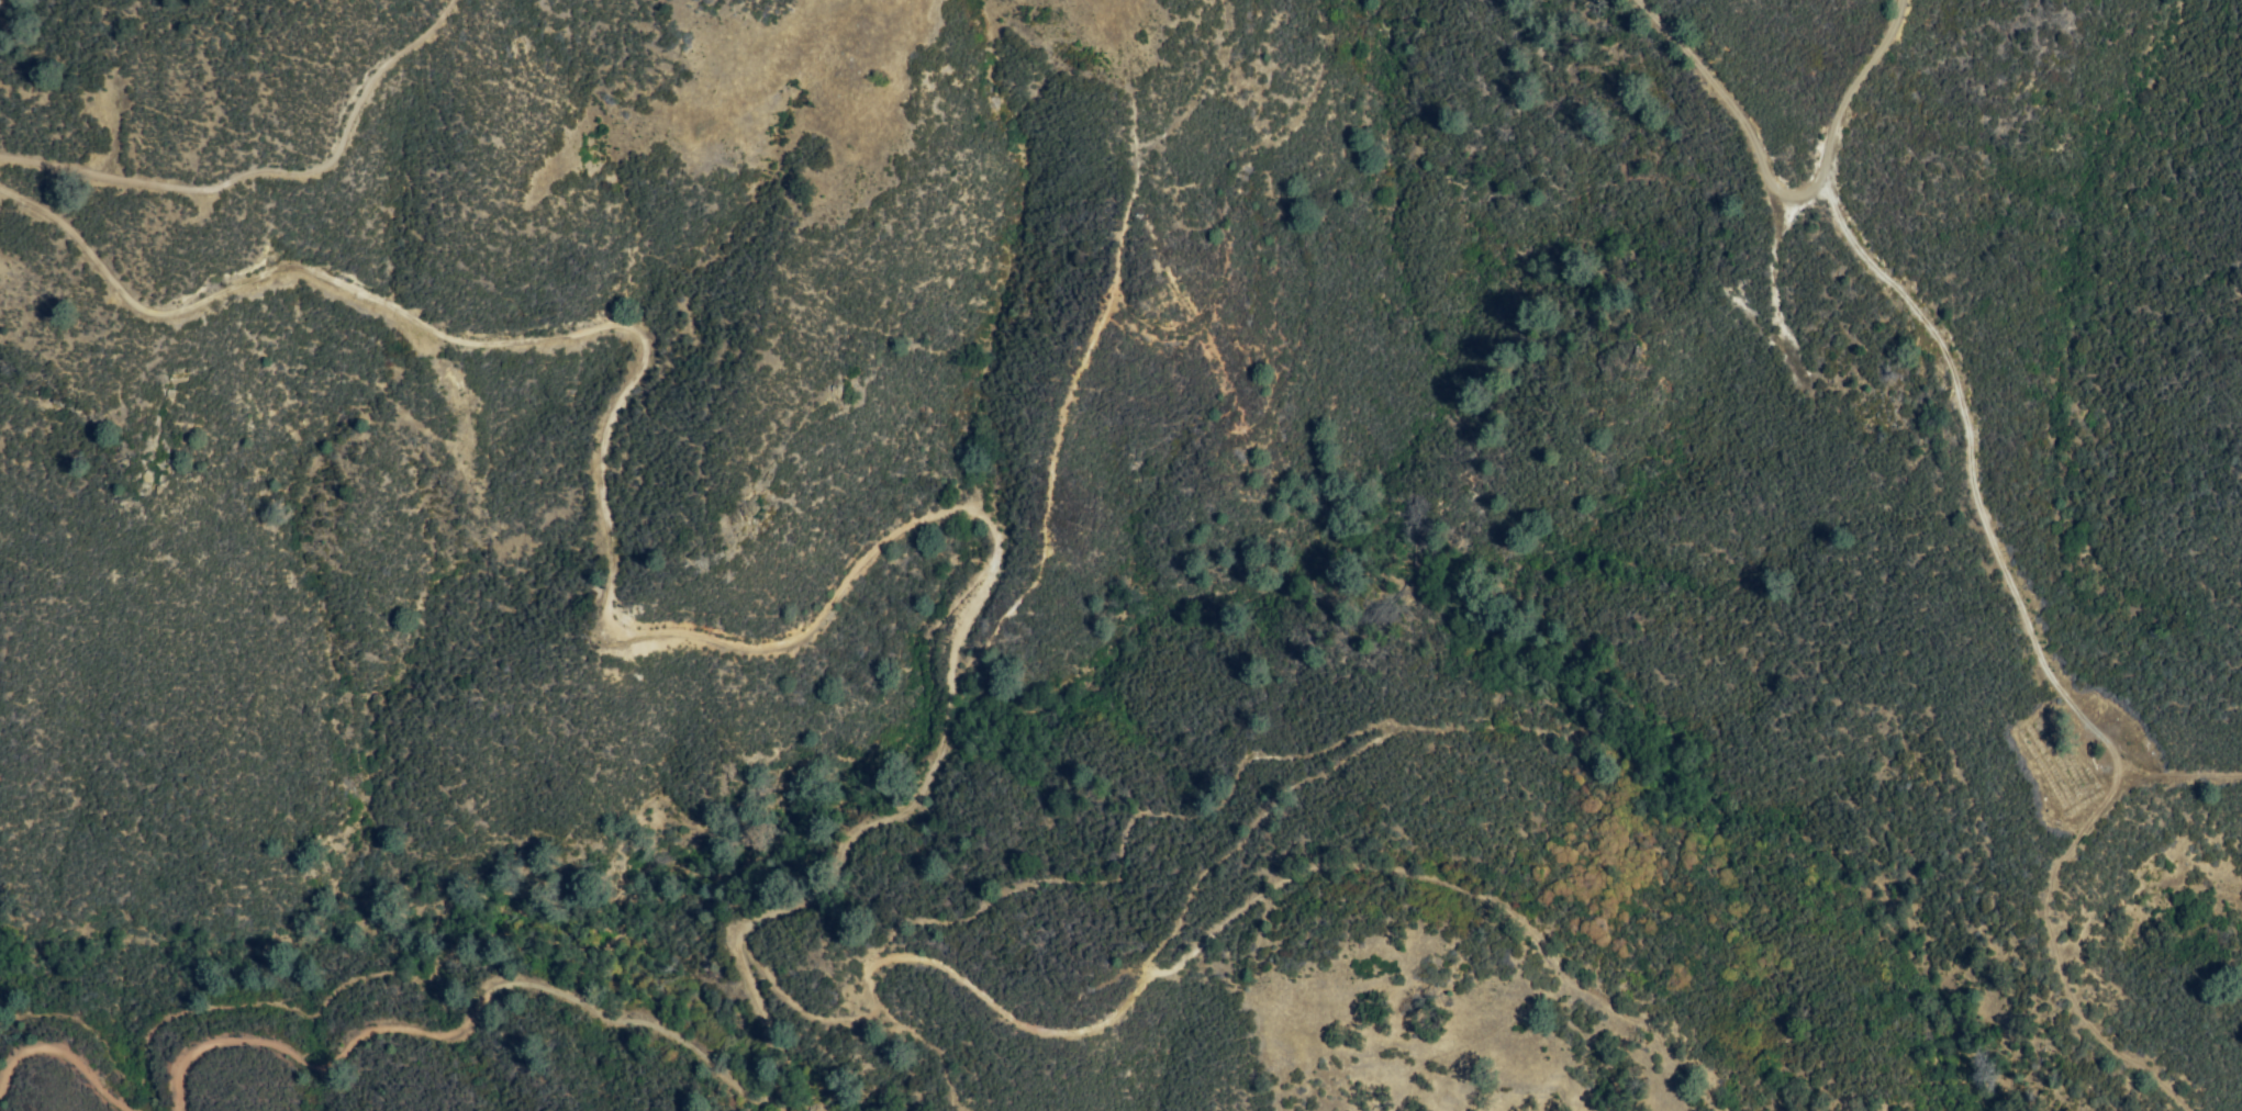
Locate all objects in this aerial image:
road: (1736, 106)
road: (268, 166)
road: (1087, 347)
road: (2007, 586)
road: (601, 615)
road: (2177, 771)
road: (1116, 835)
road: (1454, 890)
road: (728, 939)
road: (926, 1048)
road: (57, 1060)

